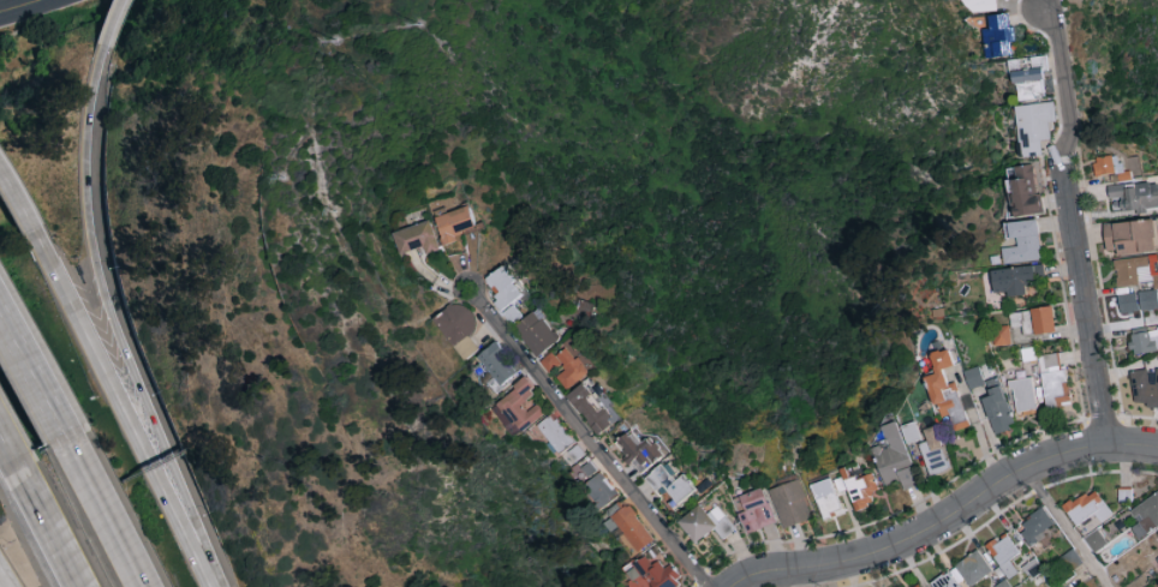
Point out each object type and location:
road: (17, 5)
building: (979, 5)
road: (103, 23)
building: (999, 36)
building: (1028, 77)
building: (1033, 126)
building: (1117, 166)
building: (1023, 191)
building: (1135, 194)
road: (19, 204)
building: (456, 223)
road: (1076, 226)
building: (1130, 236)
building: (419, 238)
building: (1021, 241)
building: (1015, 278)
building: (1136, 282)
building: (509, 293)
building: (587, 309)
building: (1041, 319)
road: (112, 323)
building: (1020, 324)
building: (461, 328)
building: (541, 331)
building: (999, 335)
building: (1144, 340)
building: (554, 361)
building: (500, 365)
building: (574, 369)
road: (28, 375)
building: (973, 377)
building: (1052, 379)
building: (1144, 389)
building: (944, 390)
building: (1022, 394)
building: (597, 407)
building: (997, 407)
building: (520, 408)
road: (125, 414)
road: (593, 439)
building: (569, 447)
building: (640, 450)
road: (1, 451)
building: (933, 451)
building: (896, 454)
building: (671, 484)
building: (602, 489)
building: (859, 489)
building: (828, 496)
building: (790, 503)
road: (96, 507)
building: (1087, 507)
building: (754, 509)
building: (1145, 515)
road: (947, 519)
road: (31, 521)
building: (705, 522)
building: (1034, 525)
road: (1064, 527)
building: (632, 528)
building: (1094, 540)
building: (1004, 556)
building: (1157, 558)
building: (972, 568)
building: (1032, 568)
road: (2, 574)
building: (652, 574)
road: (2, 575)
road: (1081, 577)
building: (944, 581)
road: (6, 582)
building: (1003, 583)
building: (917, 585)

